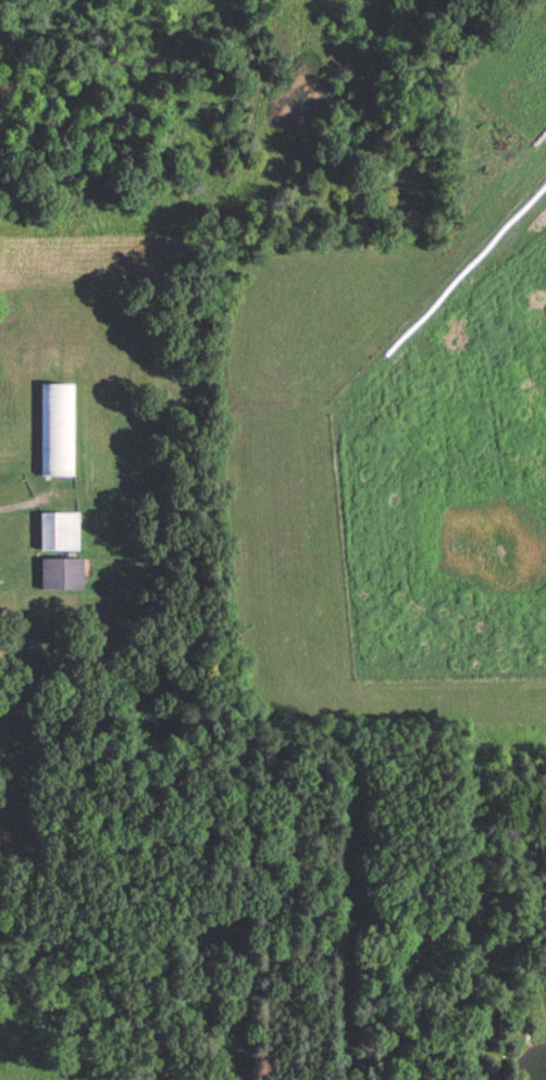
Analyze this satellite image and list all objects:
building: (58, 429)
road: (36, 508)
building: (61, 531)
building: (63, 573)

